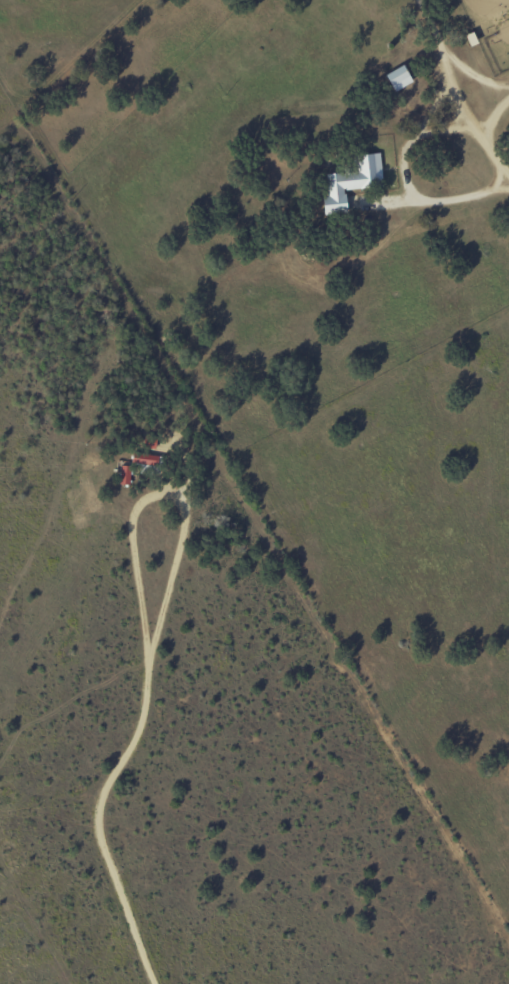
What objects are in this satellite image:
building: (397, 77)
road: (448, 96)
building: (350, 181)
road: (403, 193)
building: (144, 457)
building: (125, 473)
road: (164, 493)
road: (98, 827)

